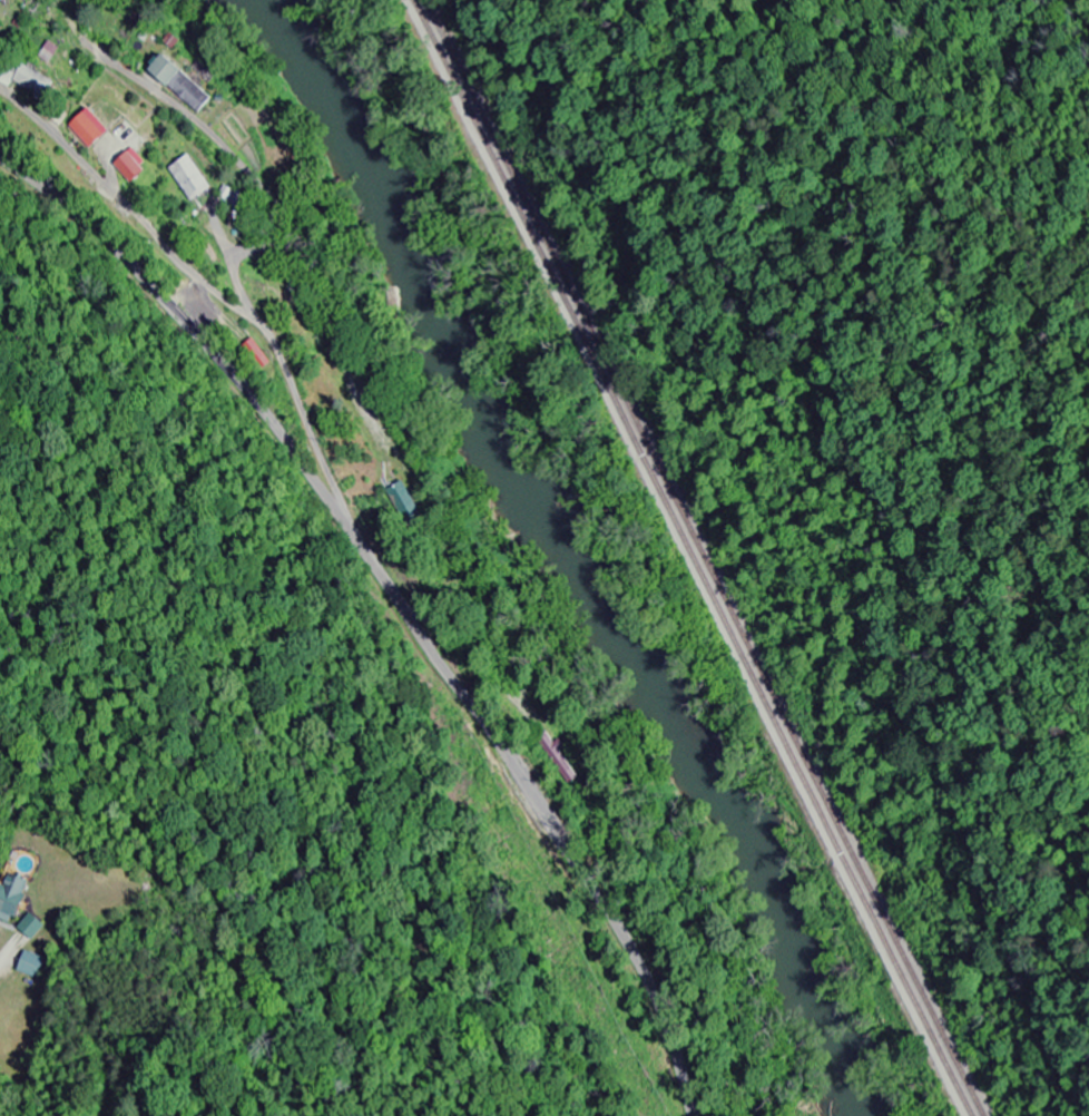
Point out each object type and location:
building: (0, 21)
building: (186, 84)
building: (95, 128)
road: (223, 144)
building: (135, 166)
building: (194, 178)
road: (131, 208)
road: (253, 254)
road: (227, 275)
road: (242, 320)
building: (402, 499)
railway: (694, 556)
railway: (706, 556)
river: (568, 559)
road: (395, 600)
building: (14, 900)
building: (35, 927)
building: (32, 966)

